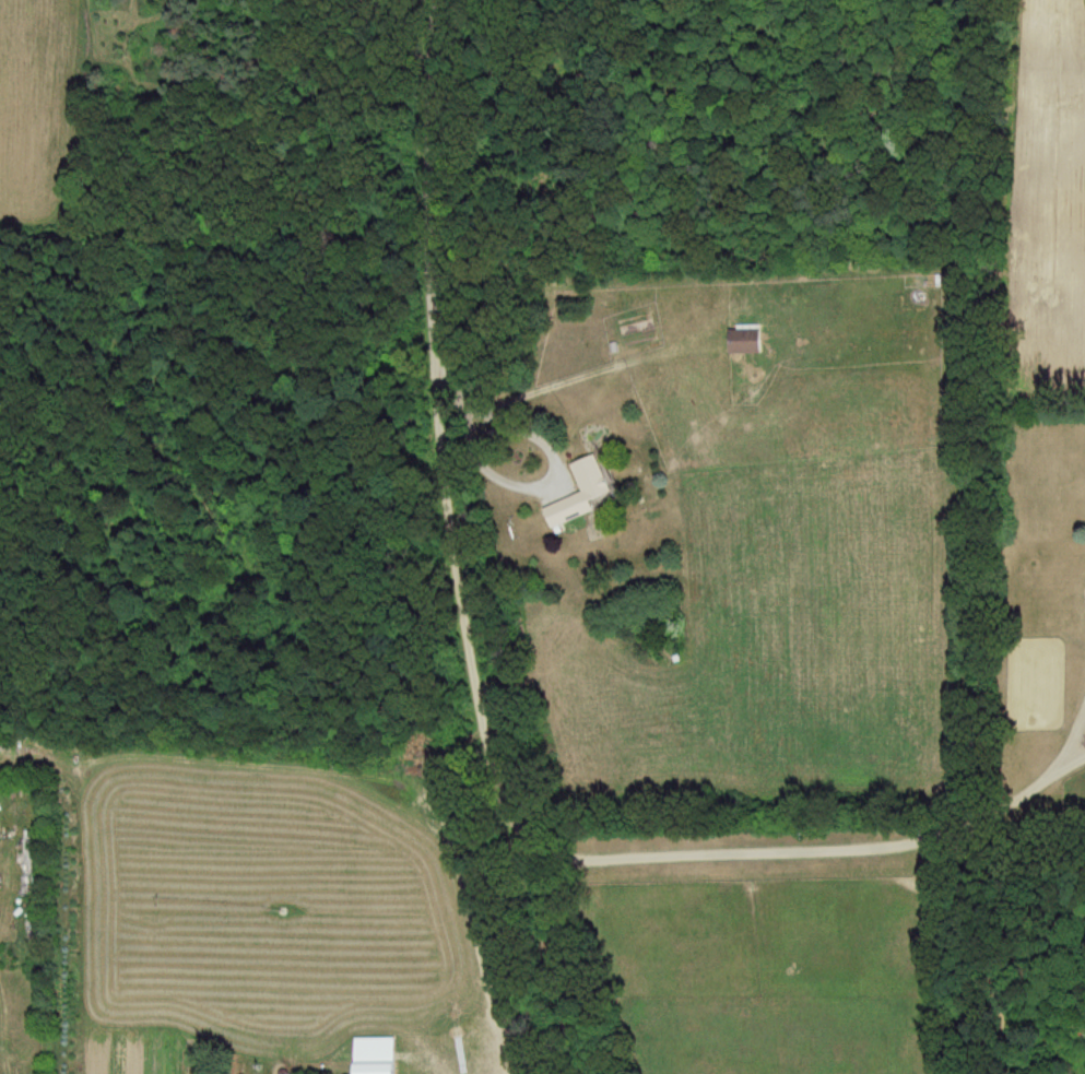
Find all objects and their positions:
building: (750, 341)
building: (597, 479)

